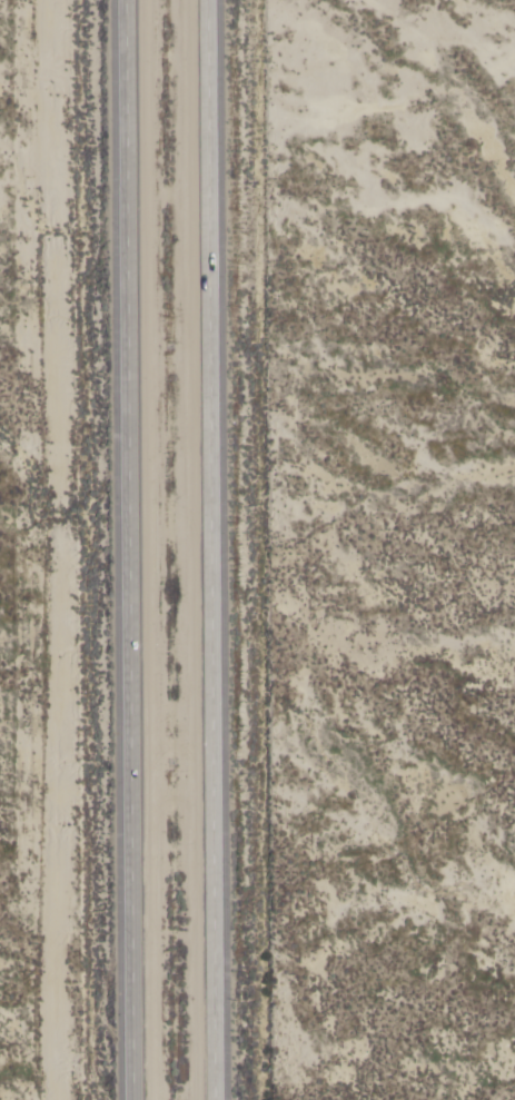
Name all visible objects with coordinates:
road: (129, 549)
road: (206, 549)

